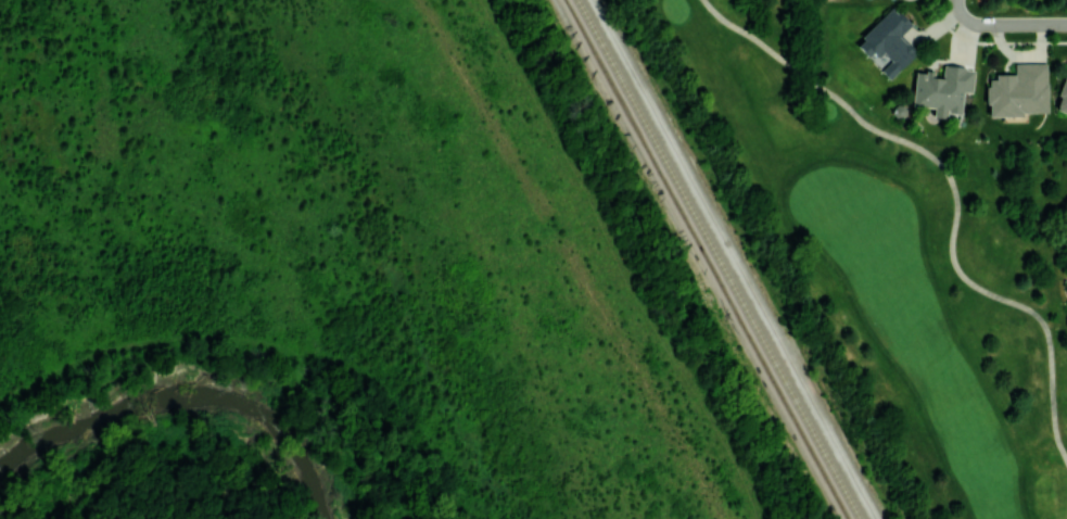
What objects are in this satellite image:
road: (1005, 24)
building: (888, 41)
building: (941, 89)
building: (1018, 91)
building: (1062, 96)
road: (954, 193)
park: (877, 225)
park: (890, 257)
road: (621, 259)
railway: (706, 259)
railway: (720, 259)
river: (189, 393)
road: (161, 488)

